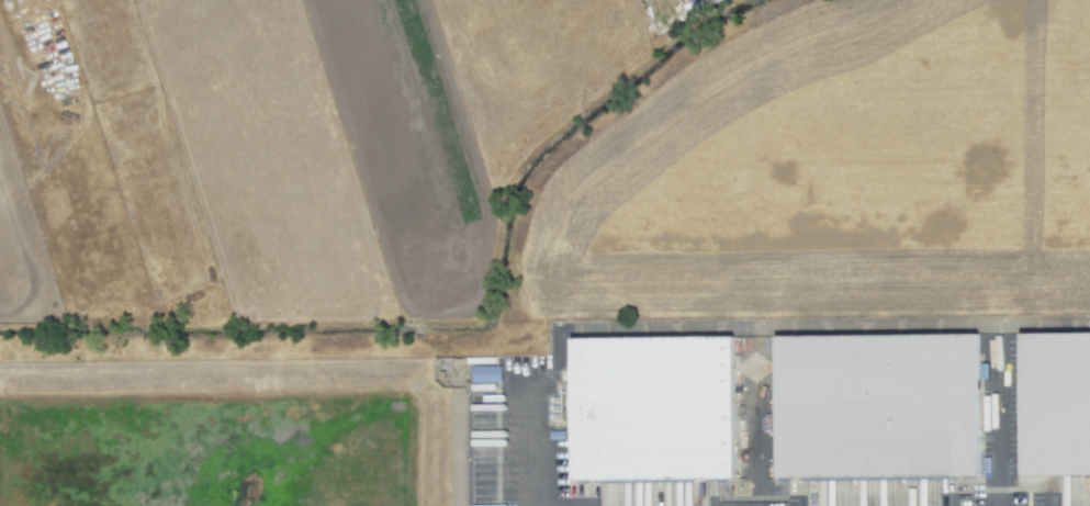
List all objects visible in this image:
building: (485, 373)
building: (1053, 395)
building: (869, 398)
building: (647, 400)
road: (997, 436)
road: (535, 440)

